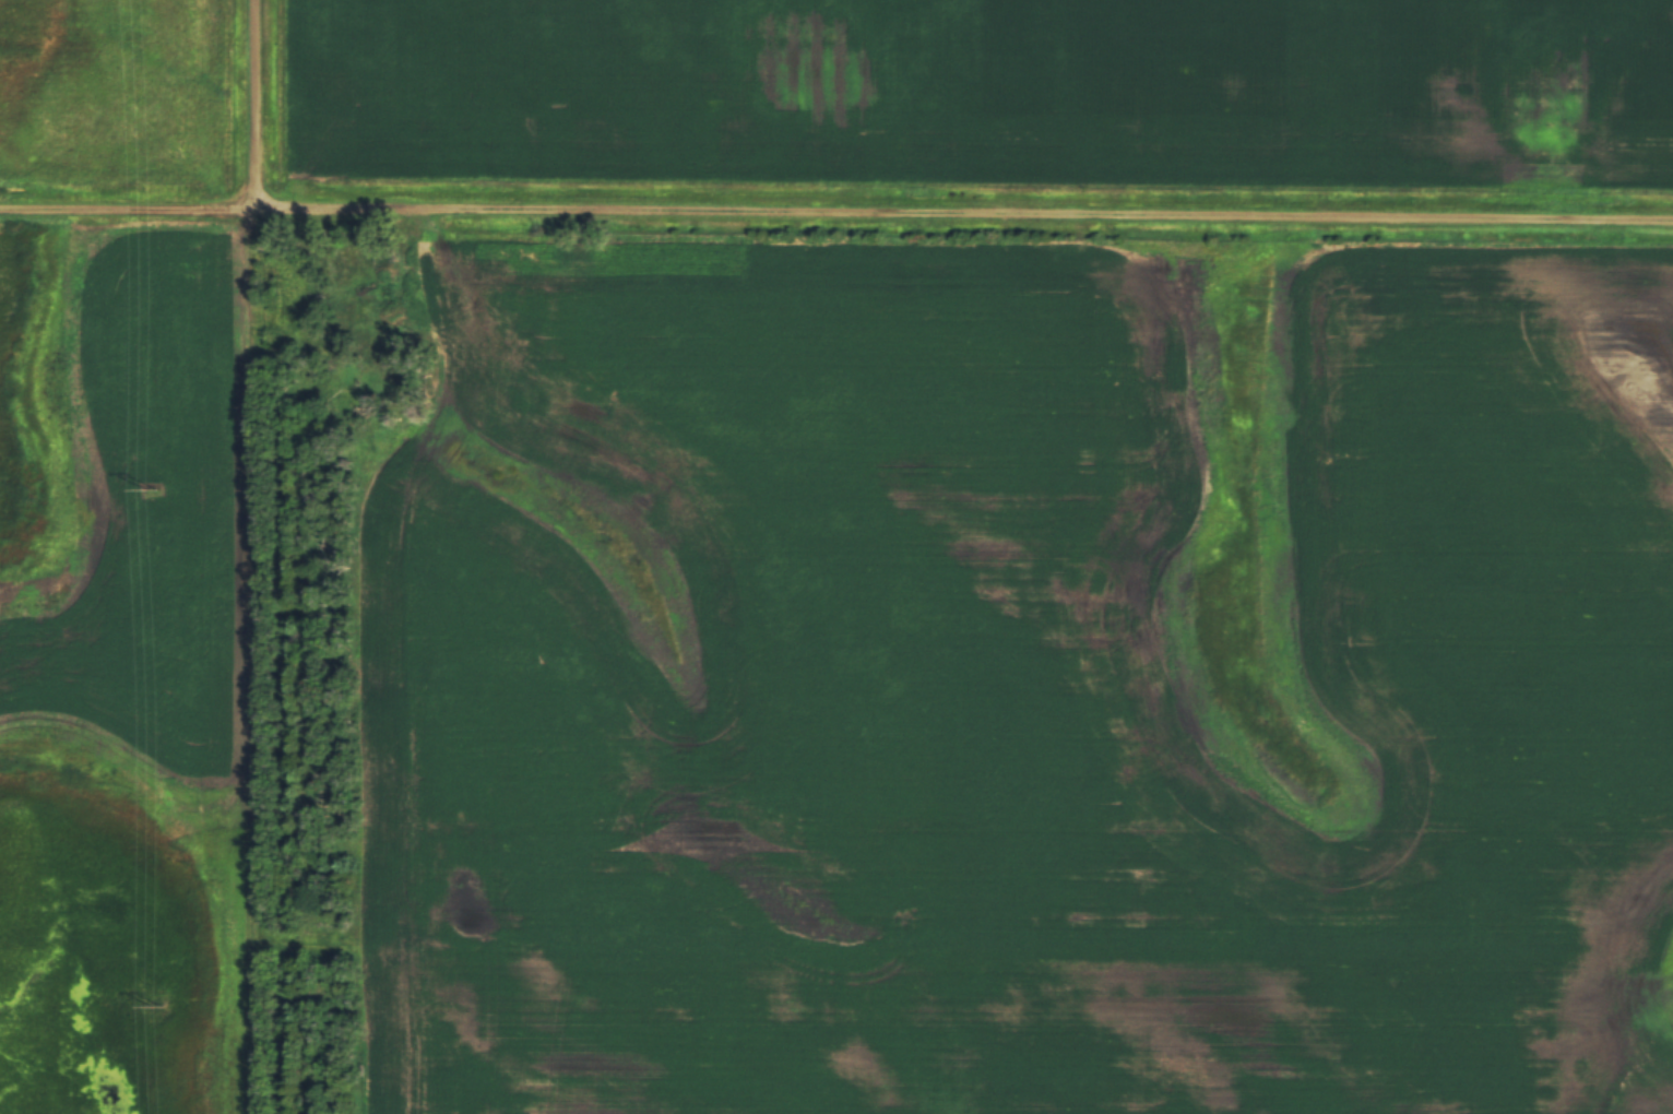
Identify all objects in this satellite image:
road: (131, 211)
road: (968, 215)
power tower: (151, 490)
road: (262, 557)
power tower: (157, 1007)

